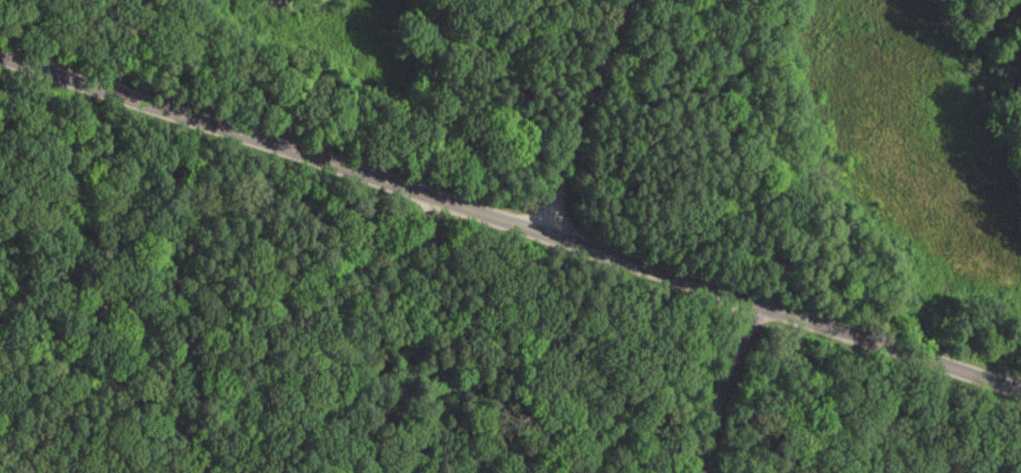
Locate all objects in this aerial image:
road: (569, 111)
road: (512, 218)
road: (541, 251)
road: (230, 268)
road: (514, 381)
road: (714, 387)

